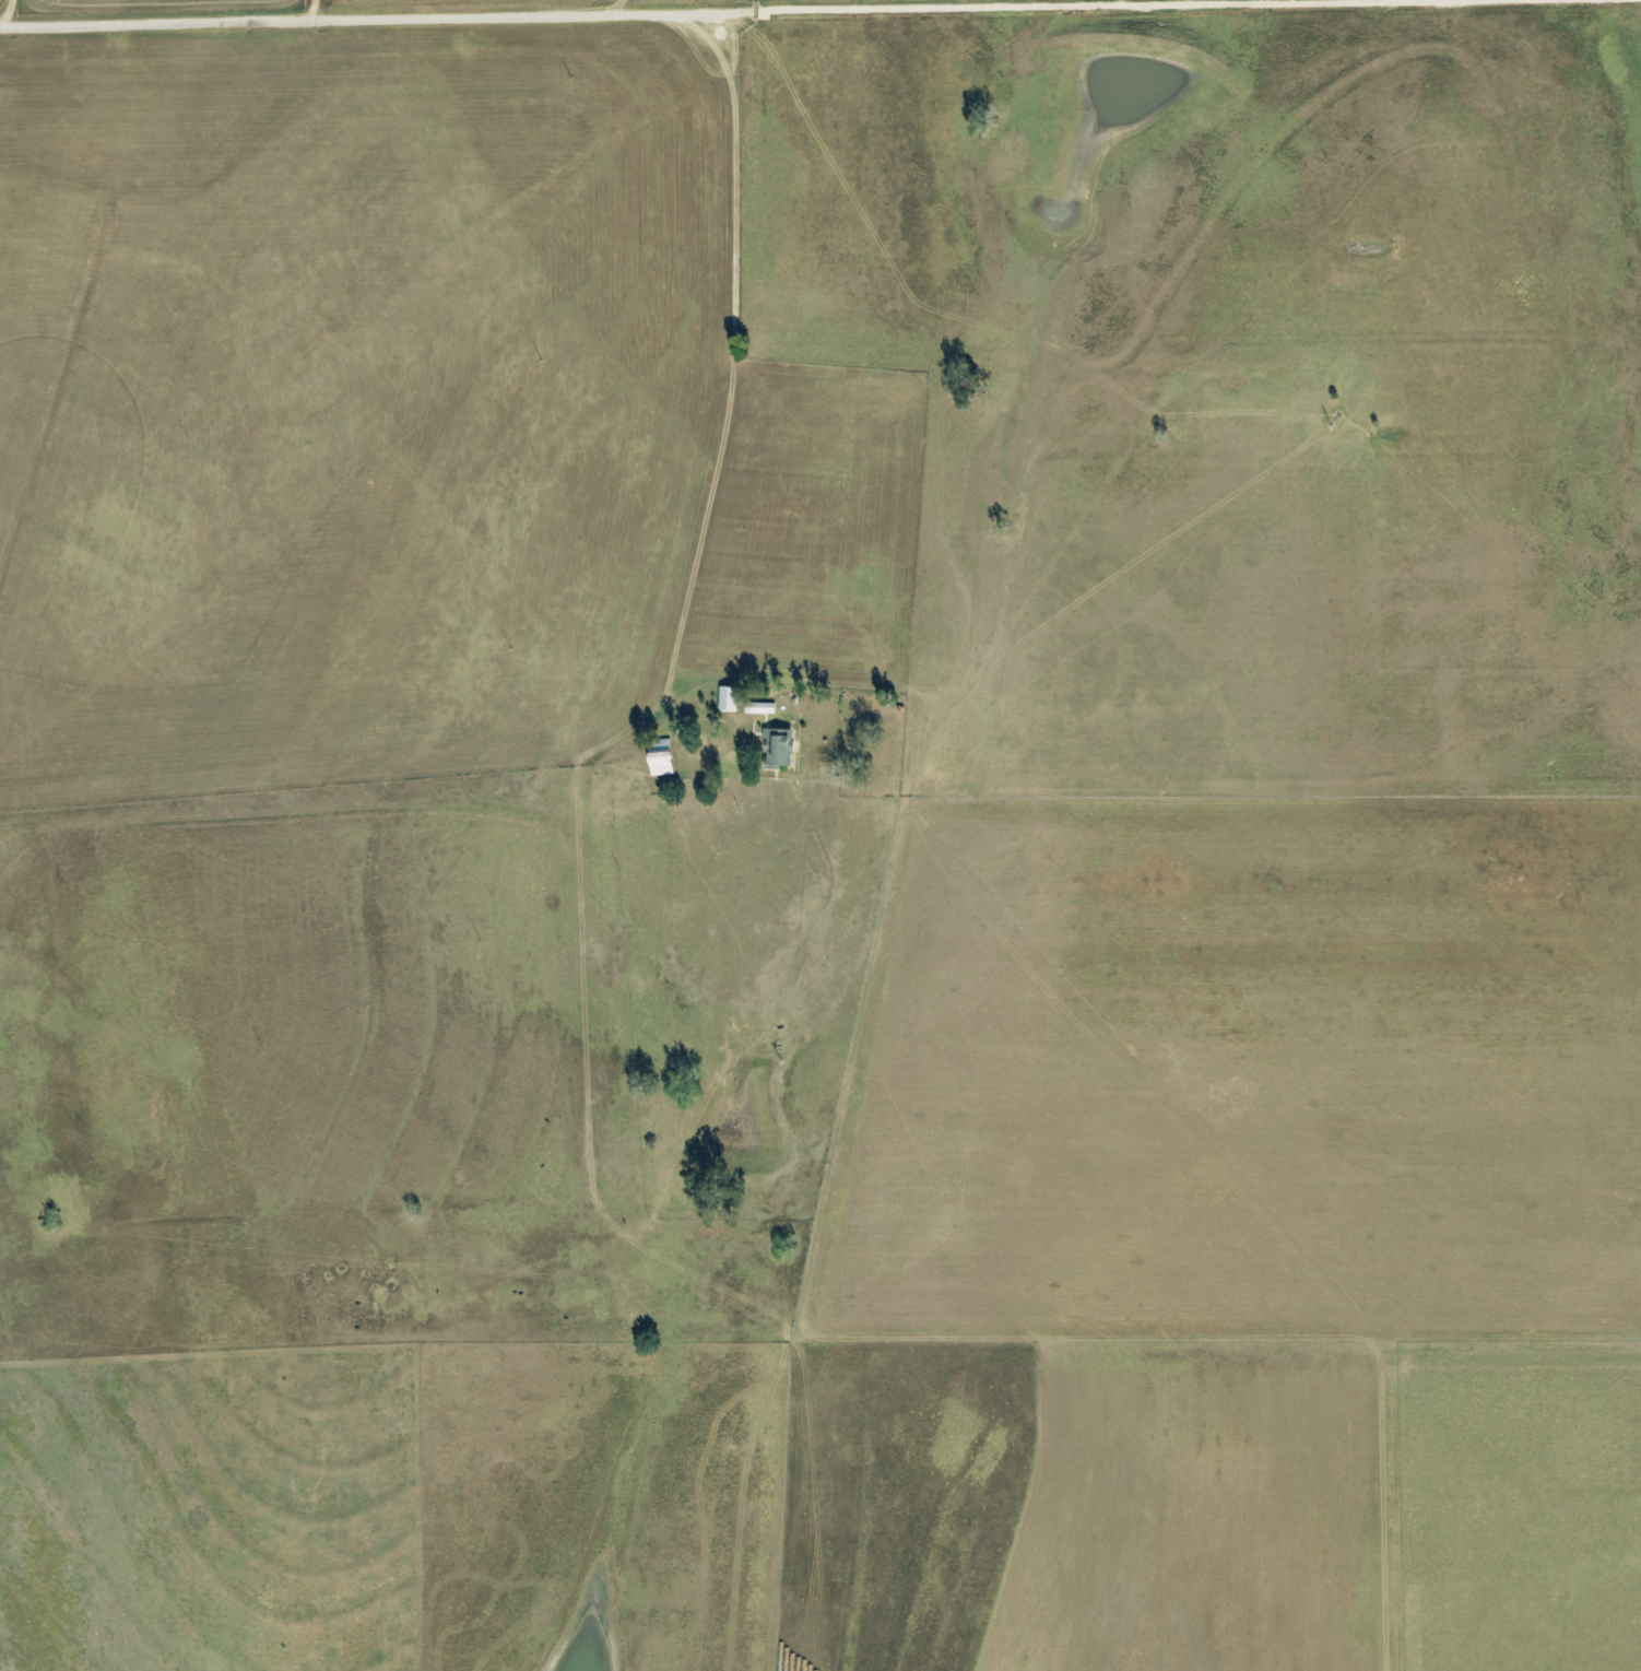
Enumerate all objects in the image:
road: (661, 5)
road: (949, 8)
road: (327, 9)
road: (673, 12)
road: (330, 16)
road: (717, 39)
building: (728, 698)
building: (759, 708)
building: (778, 748)
building: (660, 757)

